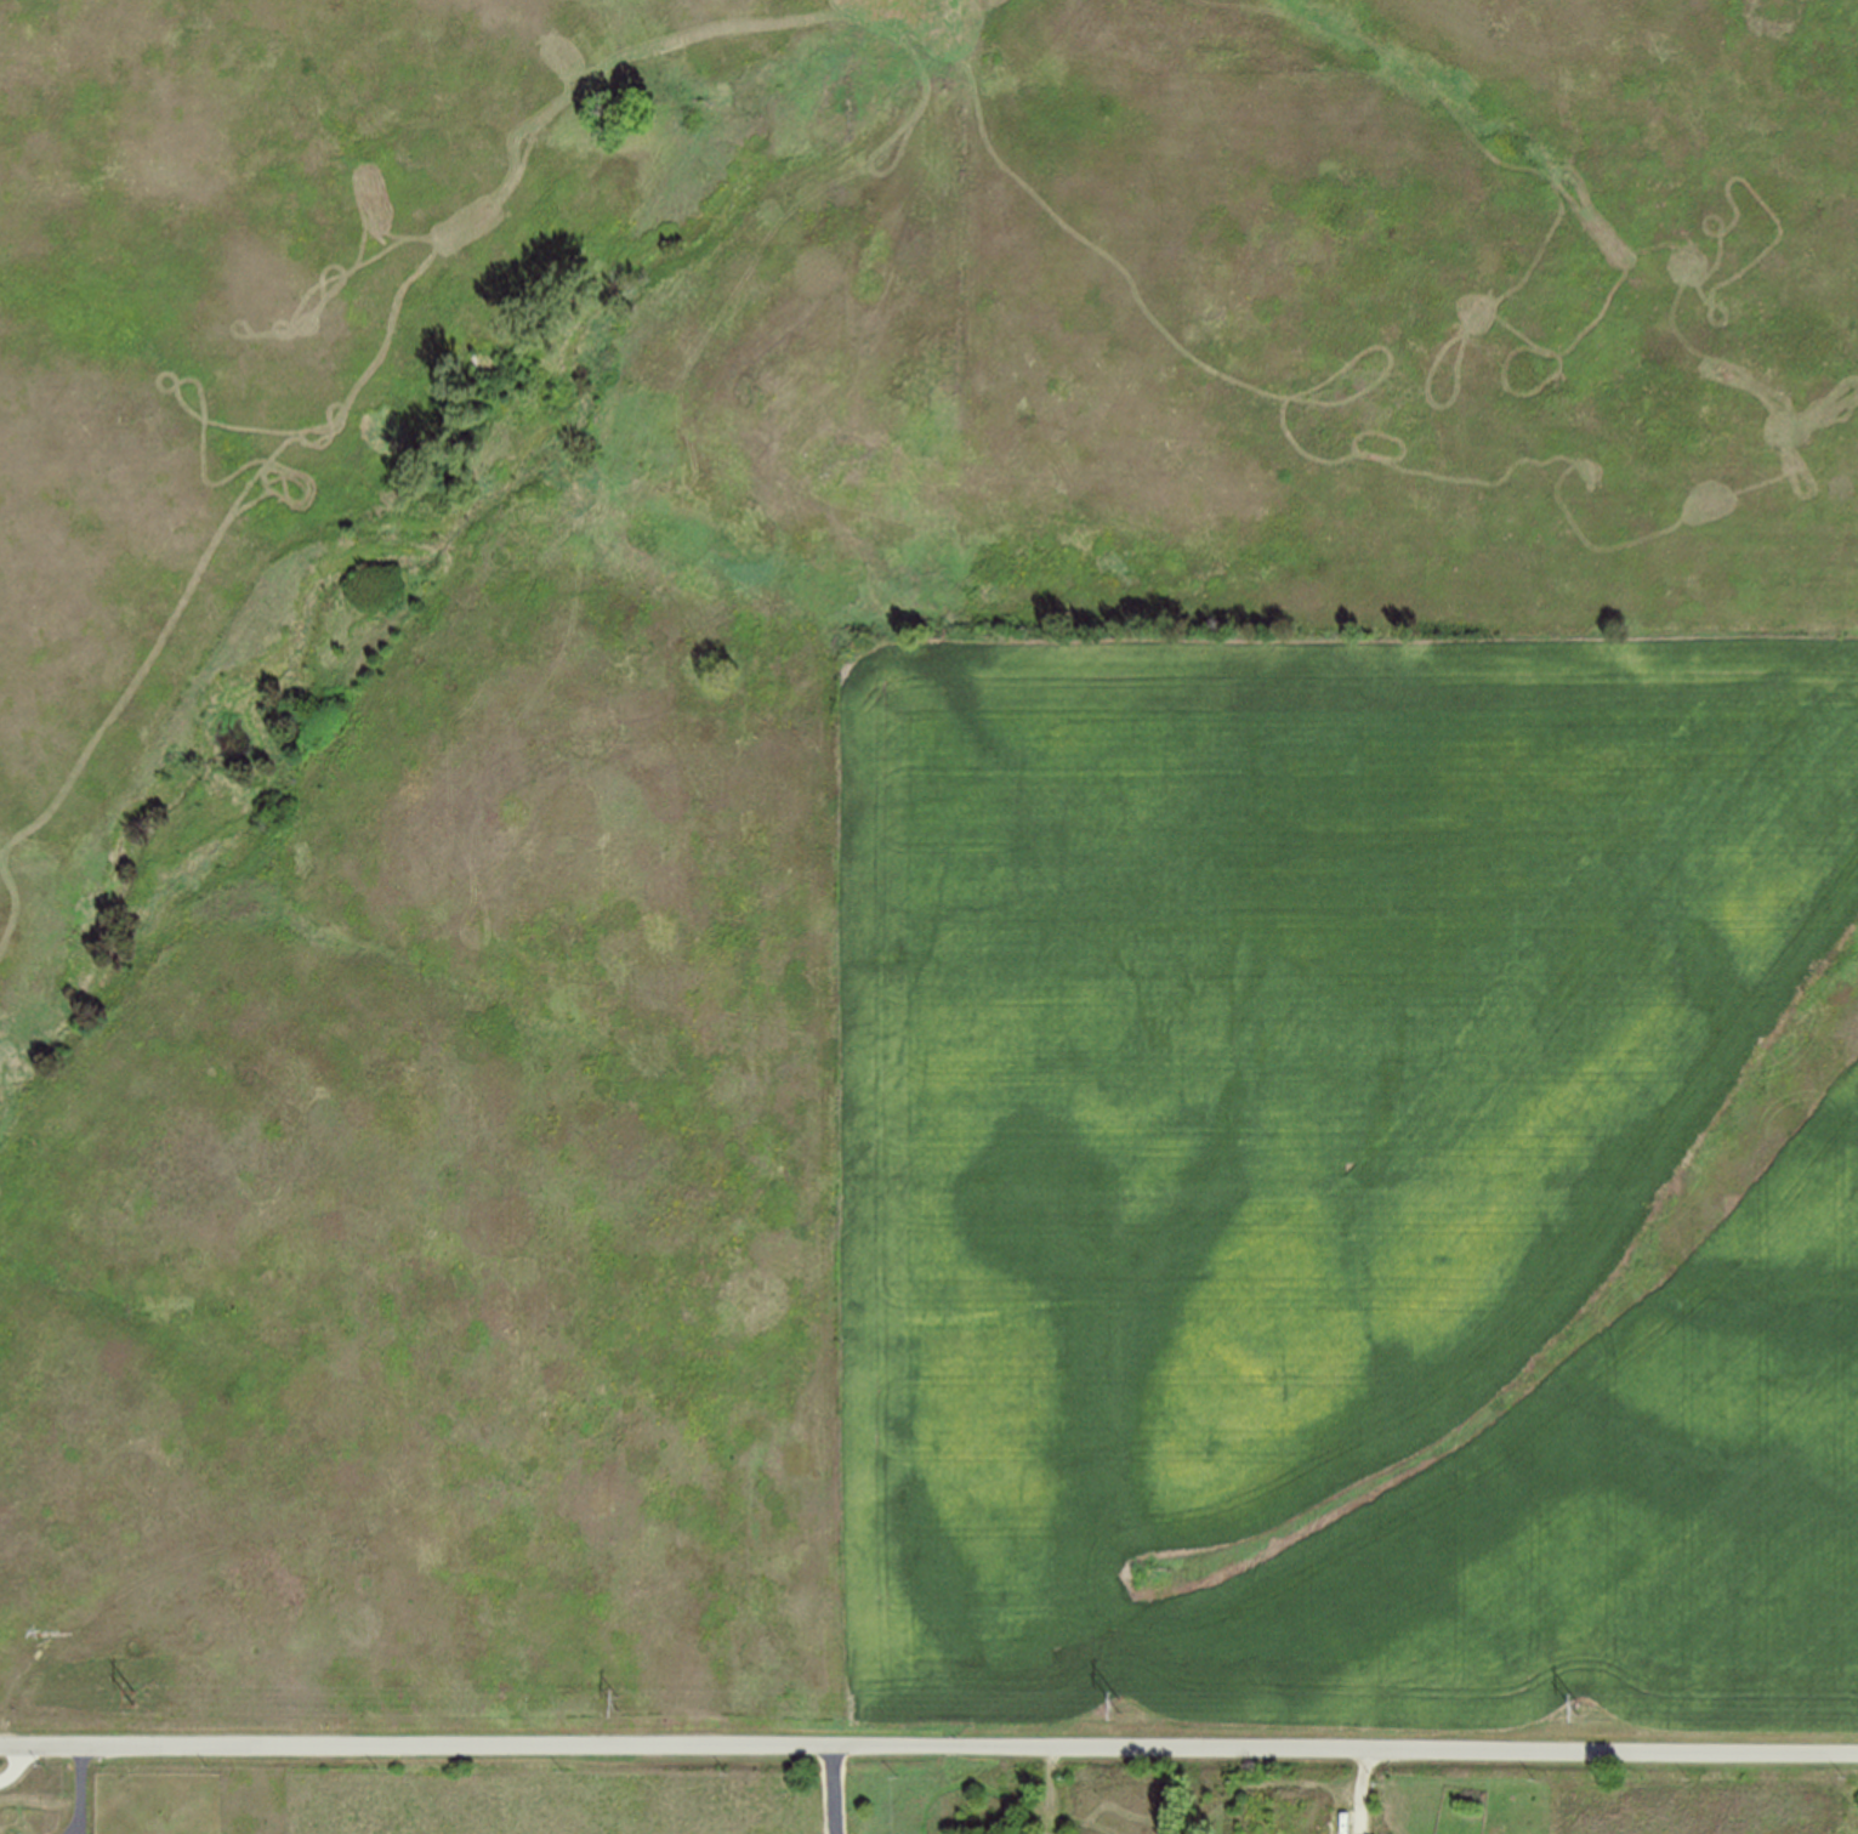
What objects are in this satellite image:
road: (928, 1745)
road: (18, 1767)
road: (1053, 1788)
road: (833, 1789)
road: (83, 1790)
road: (1366, 1792)
building: (1258, 1817)
building: (1284, 1817)
building: (1300, 1817)
building: (1319, 1817)
building: (1337, 1822)

